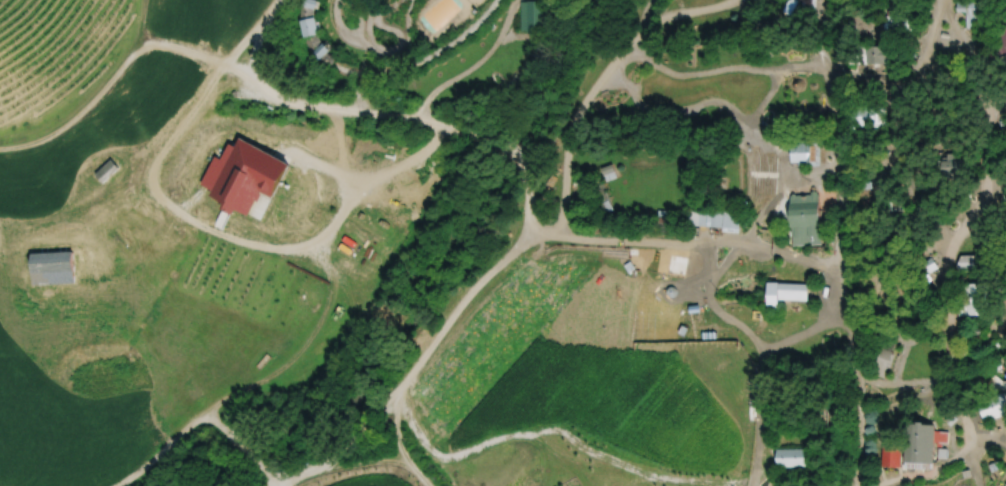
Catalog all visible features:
building: (310, 3)
building: (805, 4)
building: (977, 13)
building: (898, 22)
road: (638, 23)
building: (310, 26)
building: (1000, 52)
building: (875, 54)
road: (699, 72)
building: (868, 116)
road: (741, 121)
road: (386, 122)
building: (806, 152)
road: (839, 167)
building: (955, 175)
road: (783, 180)
building: (602, 207)
building: (713, 218)
building: (804, 219)
road: (231, 230)
road: (664, 242)
theme park: (503, 243)
road: (929, 245)
road: (725, 262)
building: (966, 262)
building: (786, 292)
building: (977, 298)
road: (749, 330)
road: (425, 346)
building: (885, 358)
road: (855, 369)
crop: (553, 378)
building: (992, 406)
road: (763, 412)
building: (920, 442)
building: (789, 457)
crop: (715, 470)
building: (1005, 484)

